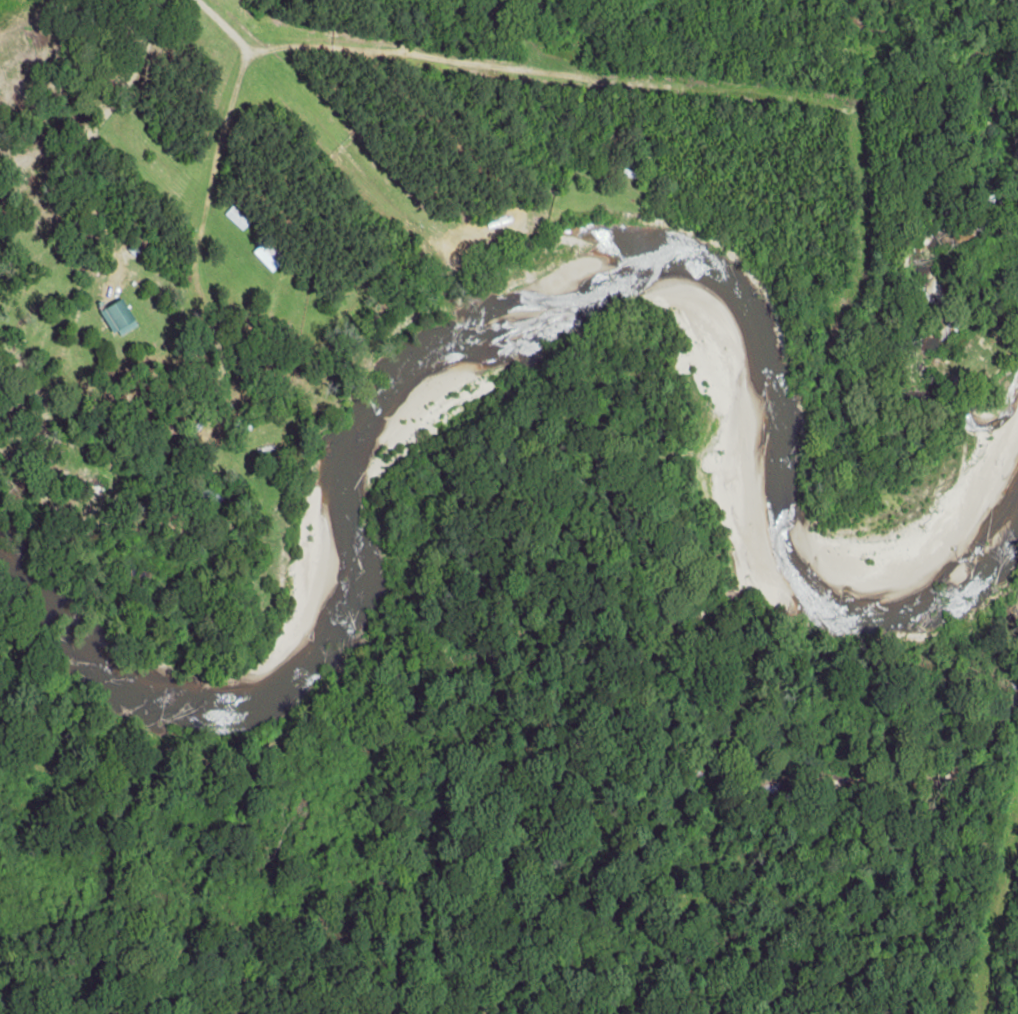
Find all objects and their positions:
building: (236, 216)
building: (267, 254)
building: (118, 317)

